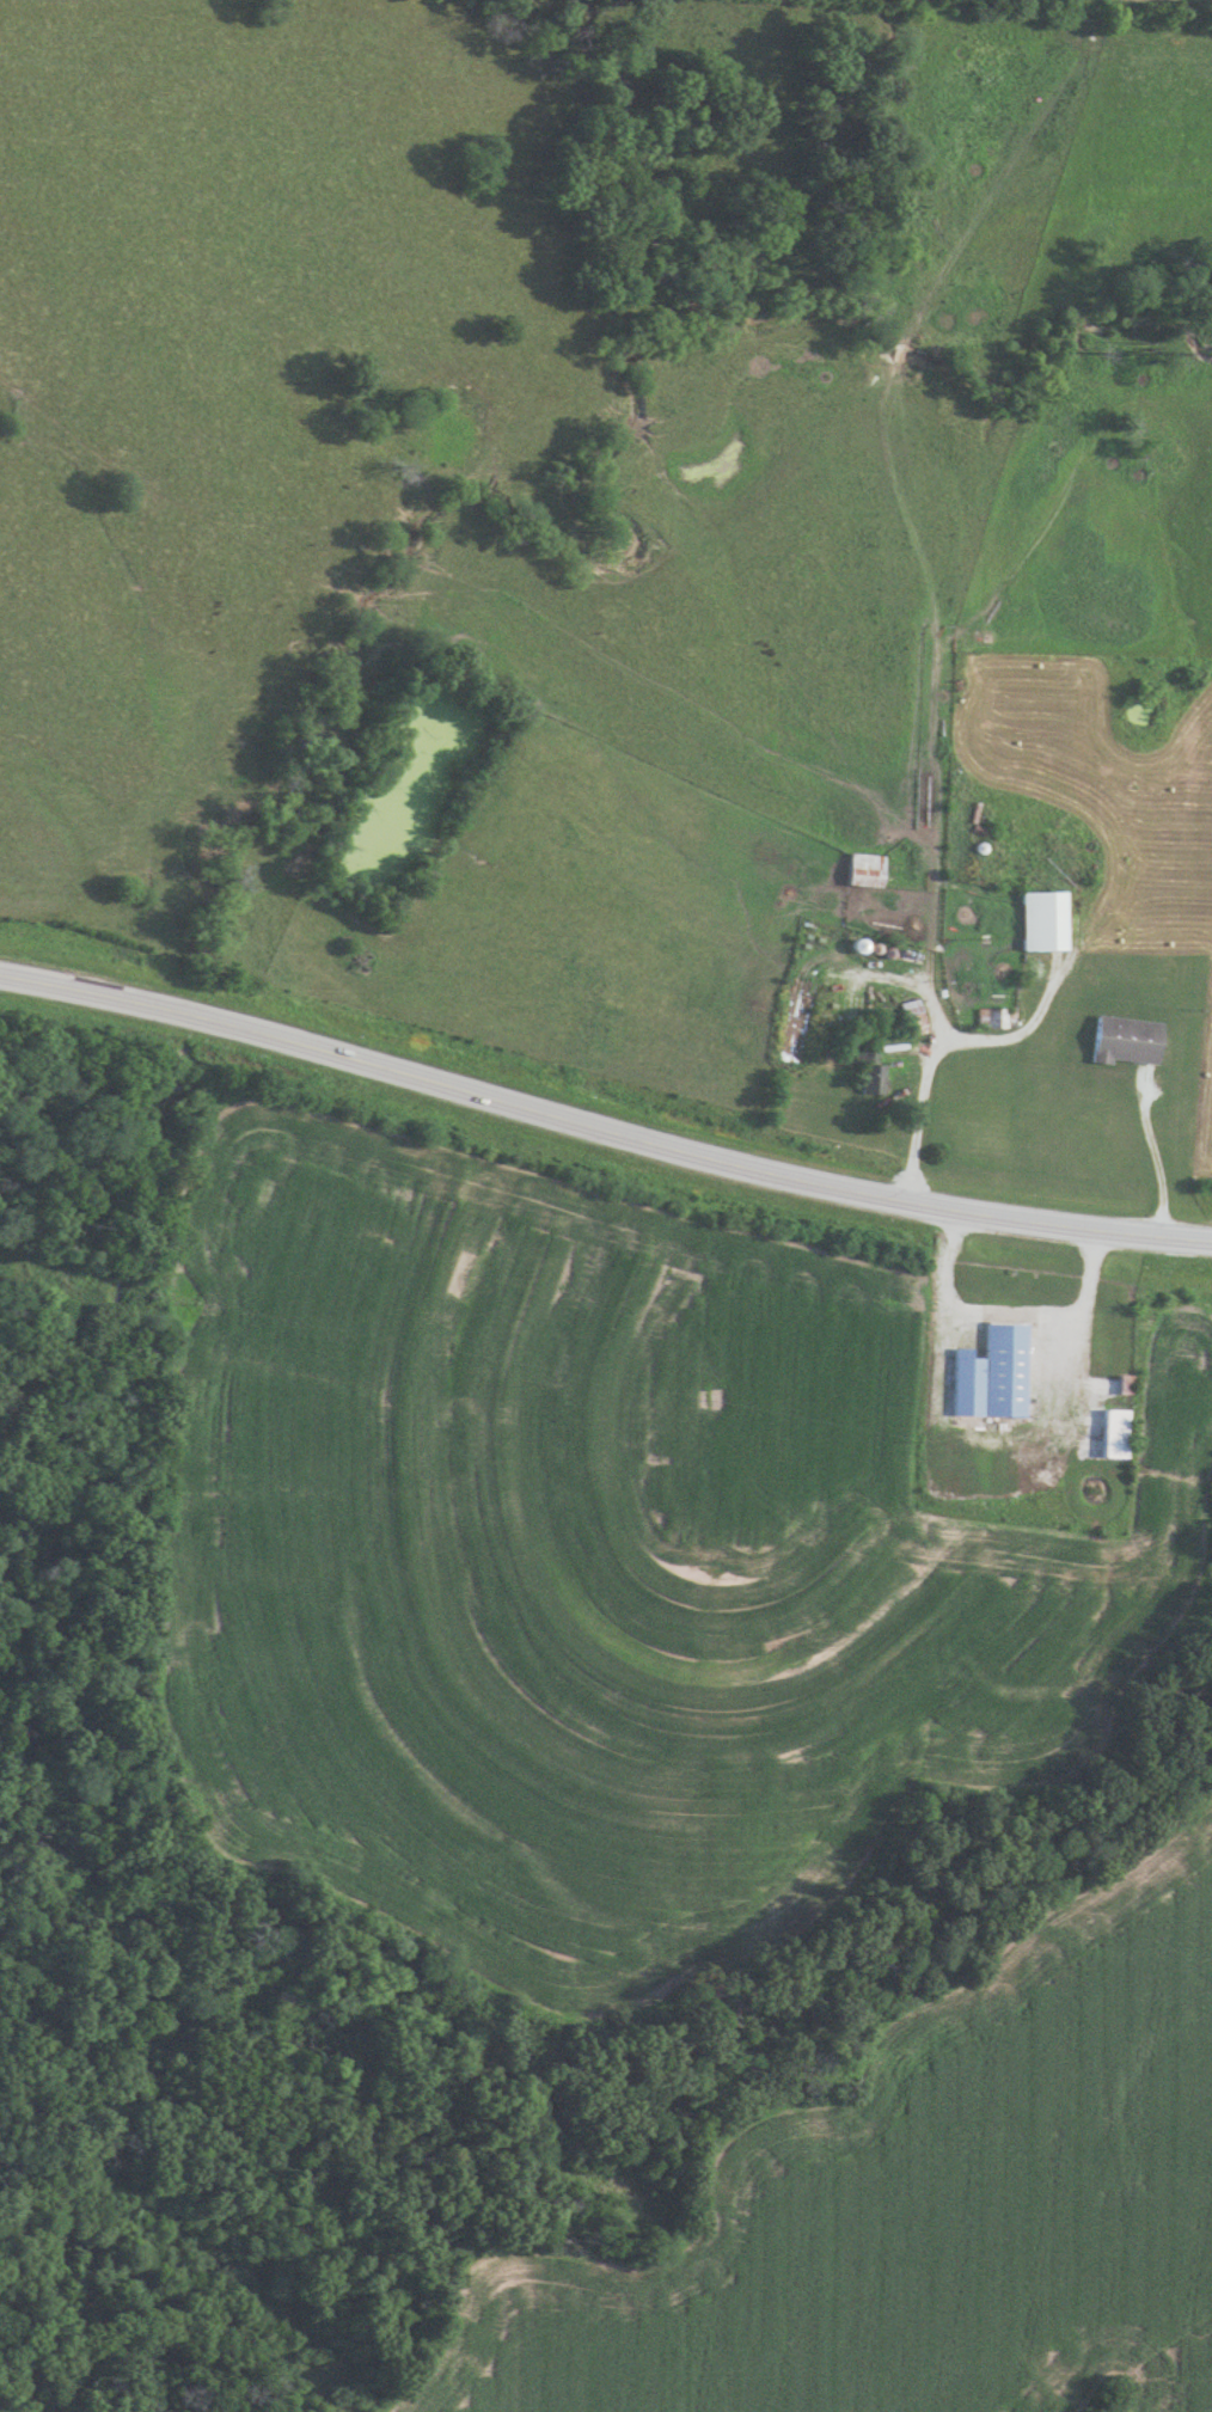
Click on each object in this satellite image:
building: (859, 870)
building: (1035, 920)
building: (907, 1017)
building: (992, 1017)
building: (1119, 1040)
road: (943, 1041)
road: (601, 1133)
road: (1150, 1145)
road: (1058, 1334)
building: (986, 1375)
building: (1108, 1433)

